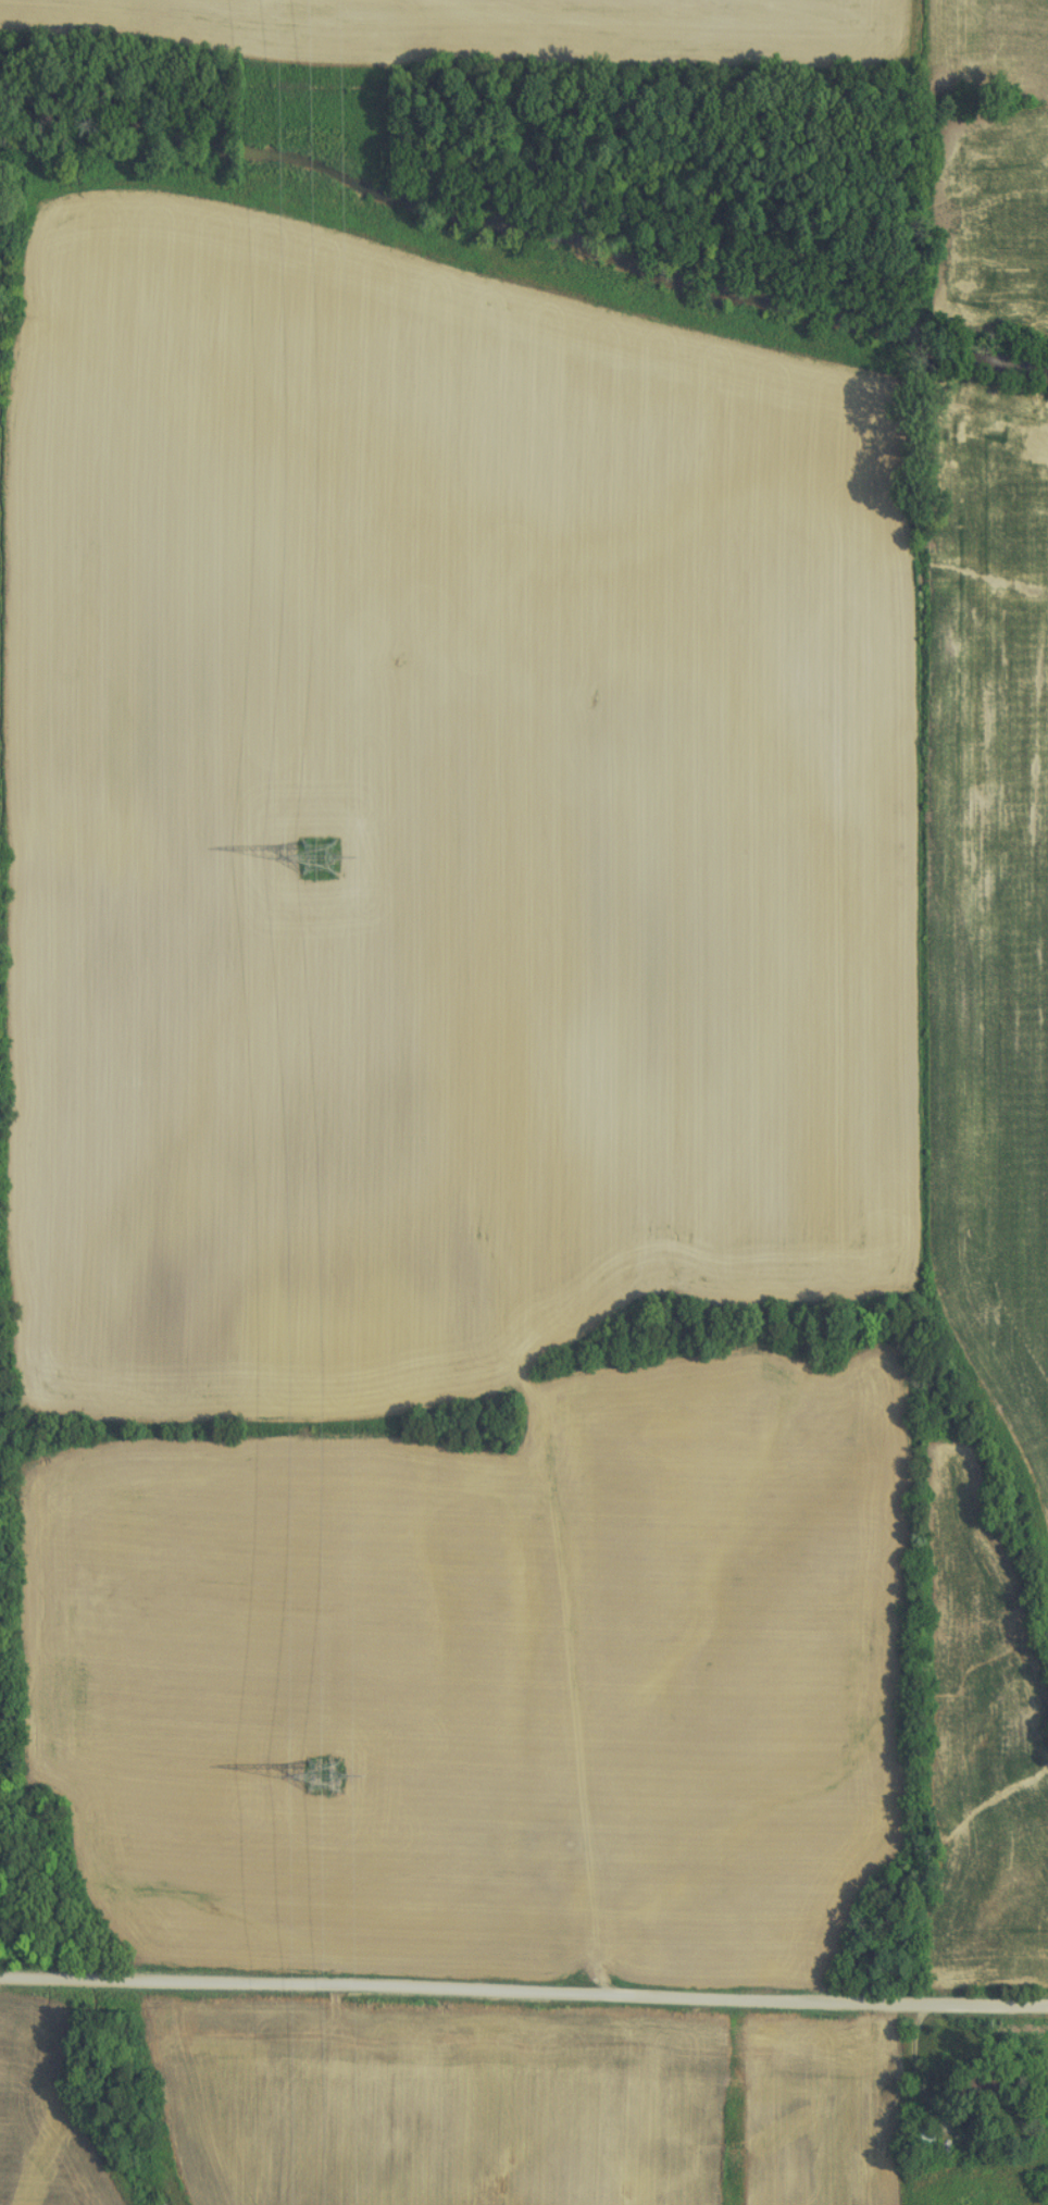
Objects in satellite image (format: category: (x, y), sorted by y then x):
power tower: (316, 859)
power tower: (321, 1776)
road: (523, 1992)
road: (908, 2069)
building: (918, 2136)

